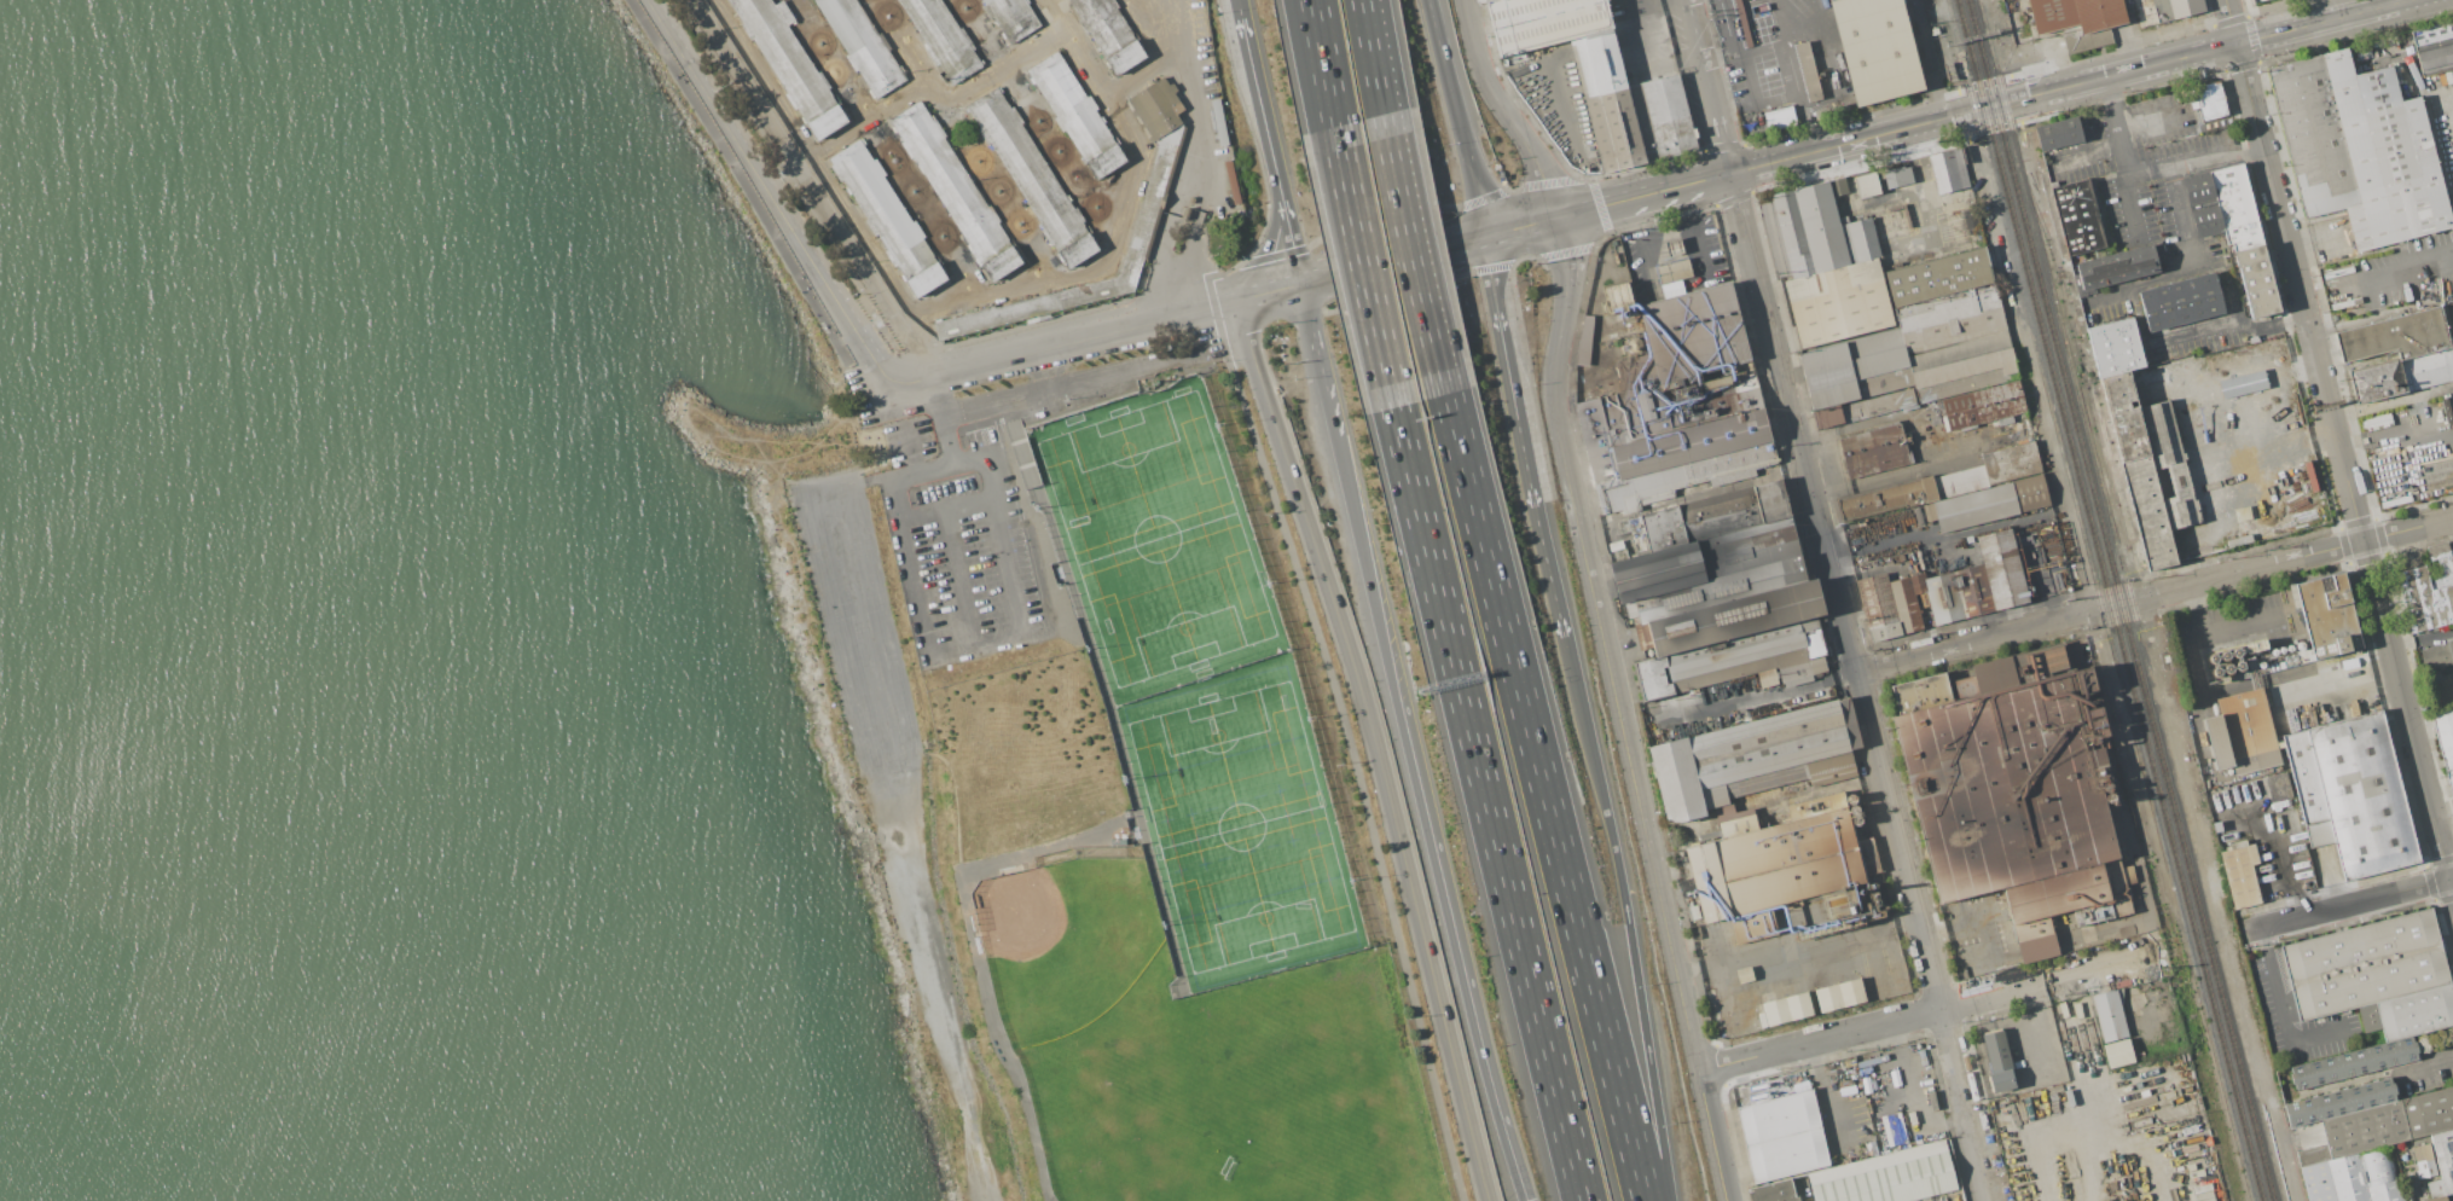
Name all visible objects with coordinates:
building: (2255, 0)
building: (2176, 8)
building: (2077, 14)
building: (1011, 18)
road: (1780, 19)
building: (1543, 22)
building: (1741, 23)
road: (1727, 28)
building: (1109, 33)
building: (943, 36)
building: (860, 45)
building: (2434, 47)
building: (1875, 48)
road: (1647, 51)
road: (2208, 52)
road: (1787, 54)
road: (1375, 56)
road: (1926, 59)
road: (1321, 63)
building: (790, 66)
road: (1143, 69)
building: (1807, 71)
road: (1707, 87)
road: (2419, 88)
road: (1257, 93)
road: (1756, 95)
building: (2210, 100)
building: (1629, 108)
road: (1979, 109)
road: (1506, 111)
building: (1075, 116)
road: (1456, 117)
building: (1779, 117)
road: (2152, 121)
building: (2059, 134)
road: (1842, 145)
building: (2358, 149)
road: (2088, 153)
road: (1204, 157)
building: (1947, 170)
road: (2130, 175)
building: (1896, 176)
building: (1033, 178)
parking lot: (2152, 178)
building: (1866, 185)
building: (1836, 186)
road: (1669, 190)
building: (955, 192)
road: (746, 198)
parking lot: (2451, 198)
road: (767, 199)
road: (2129, 208)
building: (1147, 210)
road: (1120, 211)
building: (2078, 217)
building: (888, 219)
building: (1968, 220)
road: (1546, 221)
building: (2233, 228)
road: (1695, 231)
road: (1172, 233)
road: (1289, 234)
road: (1269, 245)
building: (1674, 246)
road: (1570, 250)
road: (1653, 251)
road: (2451, 251)
road: (1414, 253)
road: (1556, 255)
road: (1525, 257)
road: (1393, 260)
road: (2451, 261)
road: (1362, 266)
road: (1498, 266)
building: (1823, 266)
road: (2409, 266)
building: (2117, 267)
road: (2192, 269)
road: (2295, 269)
building: (1672, 271)
parking lot: (2391, 275)
road: (1272, 291)
building: (2181, 302)
parking lot: (2110, 306)
road: (2227, 319)
parking lot: (2199, 332)
building: (2394, 336)
building: (1584, 340)
road: (1077, 341)
building: (1915, 344)
building: (2112, 348)
railway: (2077, 355)
road: (2030, 361)
road: (1507, 370)
building: (2400, 375)
railway: (2072, 379)
building: (2188, 381)
road: (1083, 382)
road: (2393, 400)
building: (1675, 402)
building: (1983, 406)
road: (943, 420)
road: (1793, 423)
road: (2401, 436)
road: (1016, 449)
road: (911, 451)
building: (1872, 451)
road: (1895, 469)
building: (2148, 469)
building: (1988, 488)
building: (1886, 499)
road: (946, 509)
building: (1713, 516)
road: (1576, 518)
park: (1156, 539)
parking lot: (961, 546)
road: (2304, 556)
building: (2440, 561)
road: (1547, 569)
building: (1713, 572)
road: (846, 575)
railway: (1813, 576)
road: (956, 579)
building: (1943, 591)
railway: (2099, 599)
railway: (2109, 599)
railway: (2119, 599)
building: (2423, 600)
road: (2121, 603)
road: (2242, 622)
road: (1020, 634)
building: (1730, 642)
road: (1971, 642)
road: (2196, 649)
building: (2437, 654)
building: (2232, 657)
road: (1753, 701)
railway: (1868, 701)
road: (2408, 715)
building: (2445, 736)
building: (2322, 738)
road: (1409, 743)
road: (1375, 745)
road: (1349, 750)
building: (1750, 759)
building: (2449, 779)
building: (2010, 787)
building: (2277, 787)
road: (1544, 796)
road: (1488, 803)
road: (1639, 810)
park: (1241, 824)
road: (1896, 840)
building: (1771, 866)
building: (2238, 874)
road: (2286, 878)
road: (2350, 903)
building: (1693, 912)
road: (1626, 916)
road: (1984, 923)
park: (1065, 942)
road: (1796, 948)
road: (975, 953)
road: (935, 962)
road: (2098, 968)
building: (2370, 991)
road: (1993, 994)
building: (1838, 996)
road: (2280, 1009)
building: (1784, 1010)
building: (2107, 1015)
road: (1688, 1034)
road: (1817, 1039)
building: (2117, 1054)
building: (1997, 1062)
road: (2426, 1063)
road: (1829, 1091)
park: (1316, 1100)
road: (1912, 1100)
road: (1964, 1103)
park: (1137, 1121)
building: (1781, 1137)
building: (2371, 1141)
road: (2285, 1156)
road: (2146, 1160)
building: (2423, 1161)
building: (1885, 1176)
building: (1771, 1191)

